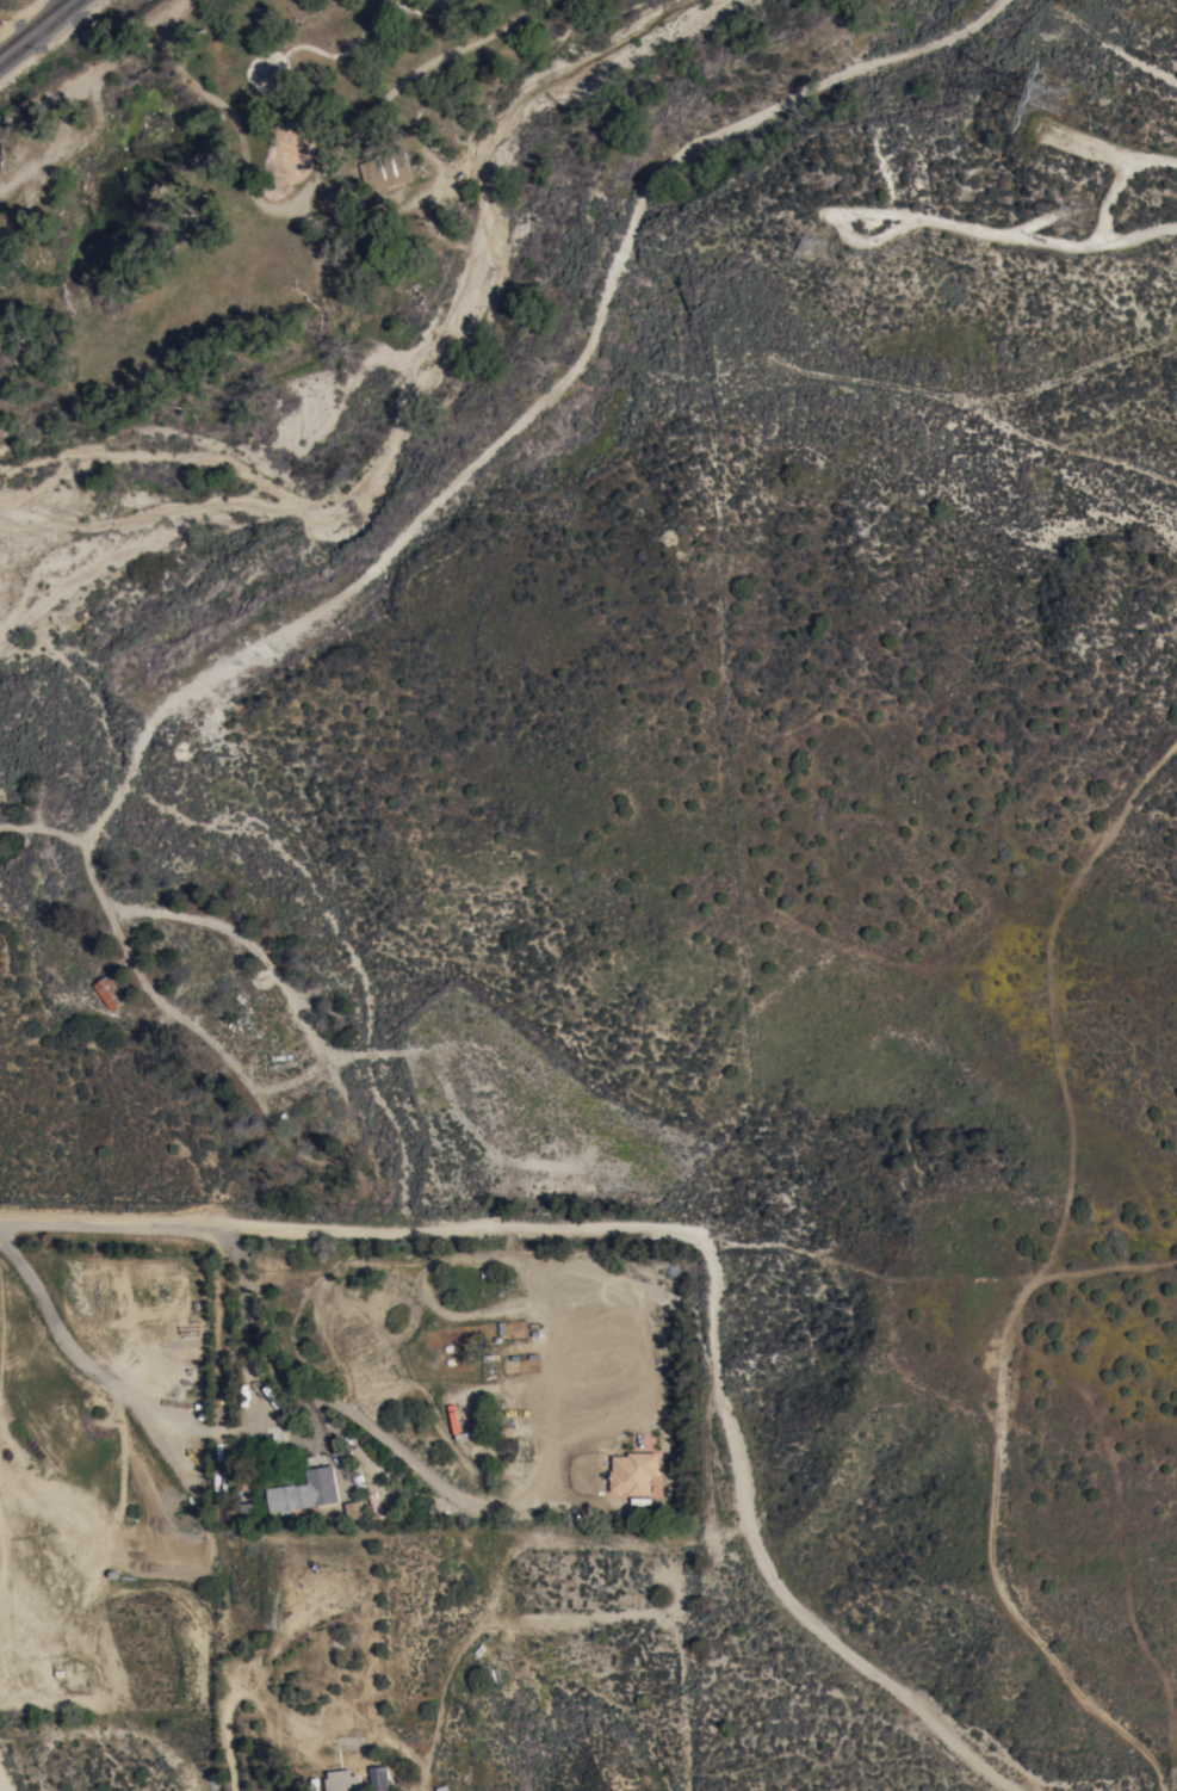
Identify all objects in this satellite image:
railway: (30, 24)
railway: (41, 33)
road: (95, 95)
power tower: (1047, 103)
road: (1144, 161)
building: (386, 171)
power tower: (1077, 223)
power tower: (801, 253)
road: (545, 408)
road: (73, 842)
building: (111, 993)
road: (346, 1128)
road: (692, 1233)
road: (299, 1385)
road: (140, 1407)
building: (634, 1474)
building: (306, 1492)
building: (246, 1509)
building: (354, 1511)
road: (374, 1635)
road: (230, 1734)
building: (380, 1778)
building: (342, 1779)
road: (1175, 1779)
road: (1, 1787)

